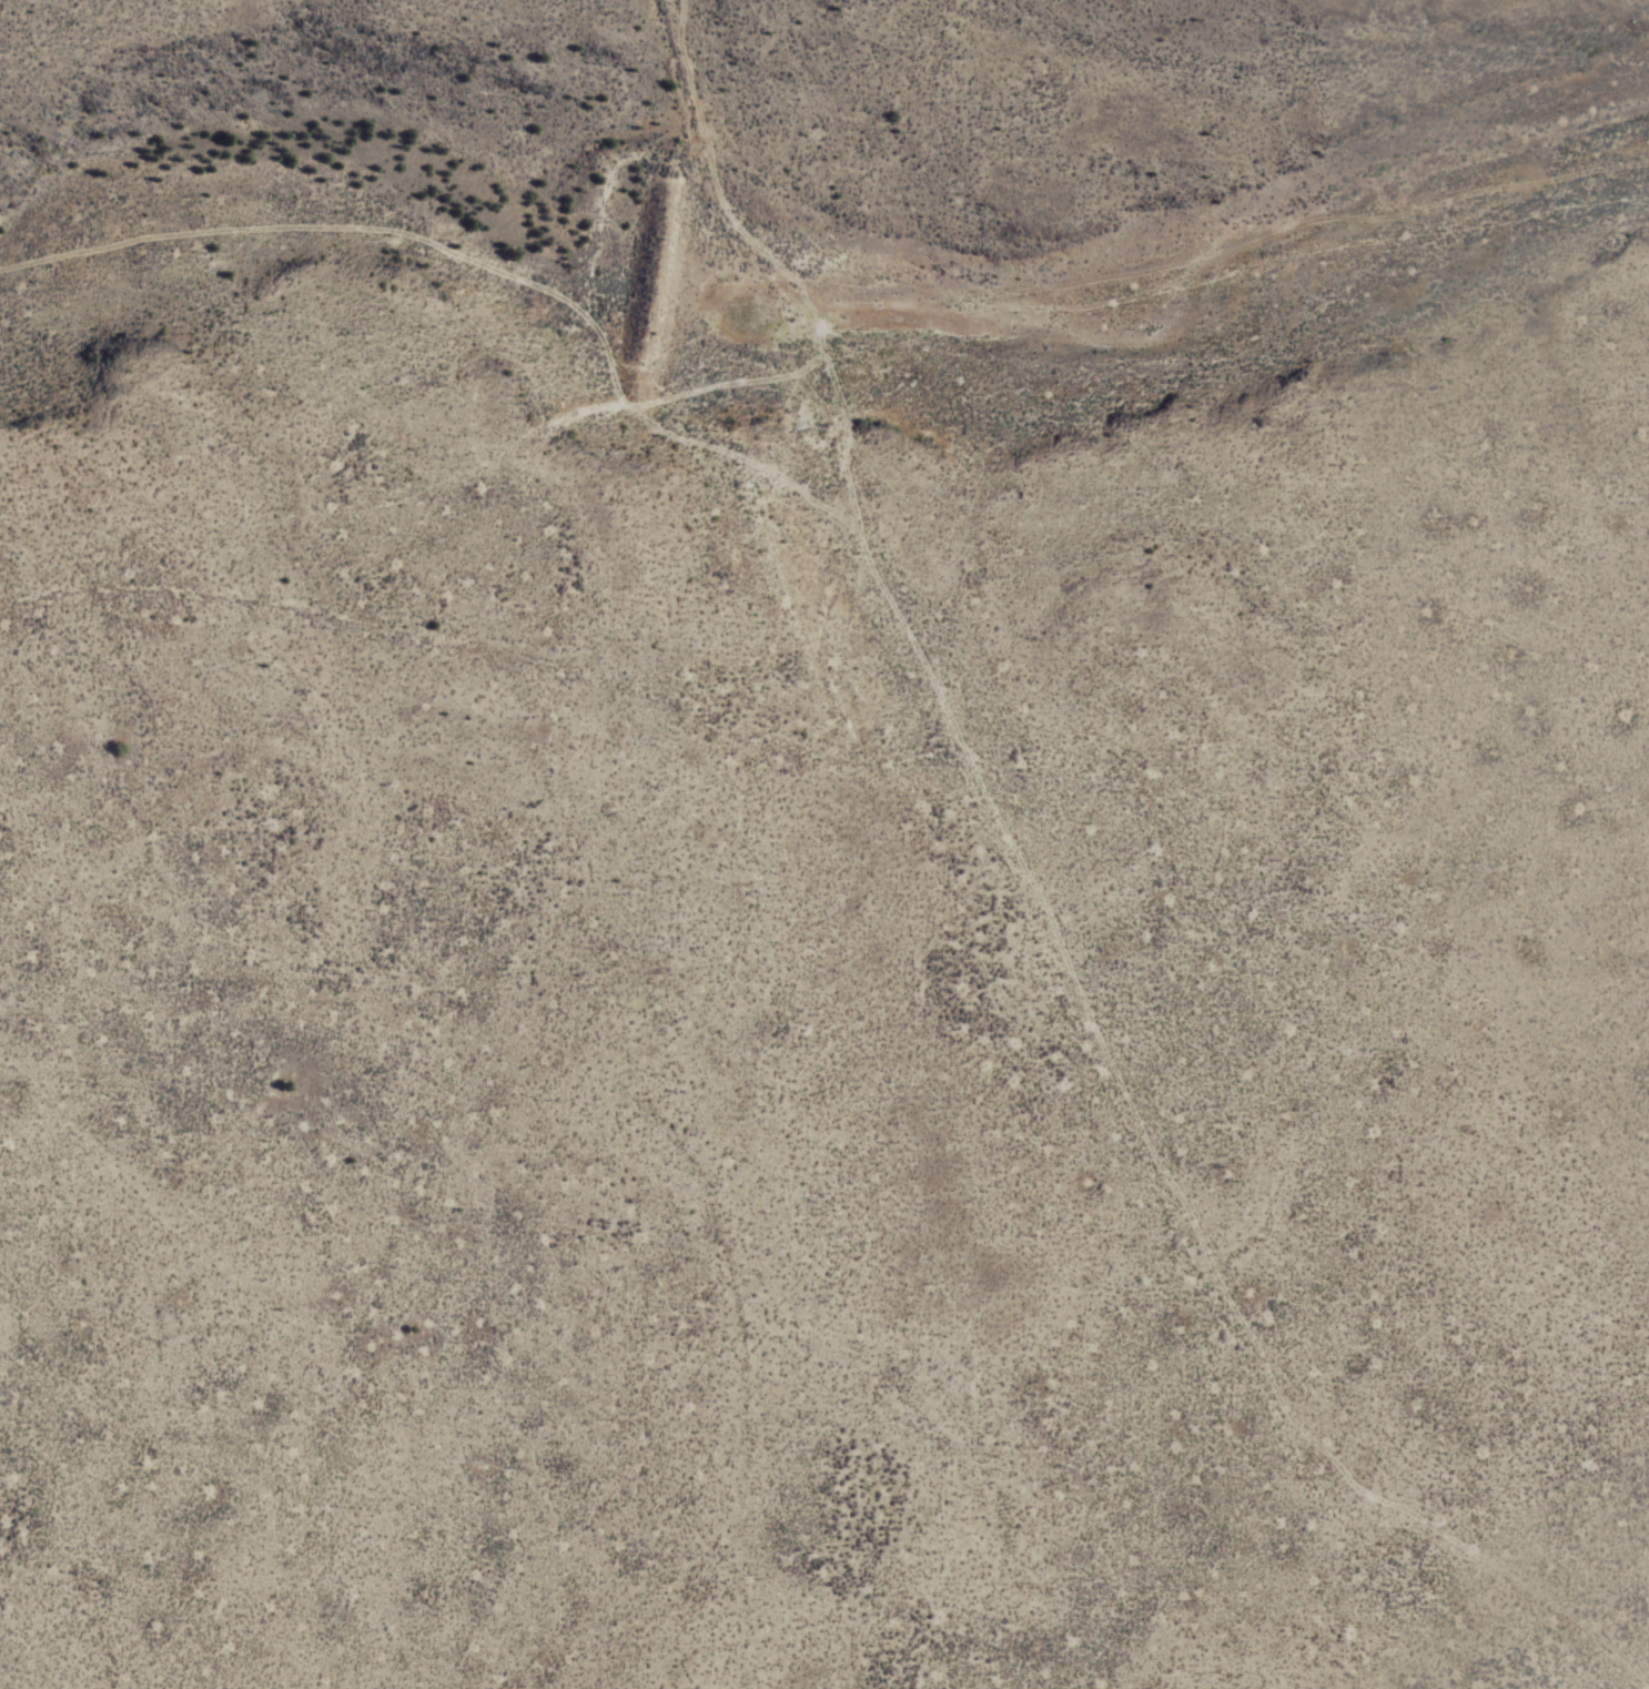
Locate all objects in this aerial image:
road: (777, 257)
road: (963, 757)

